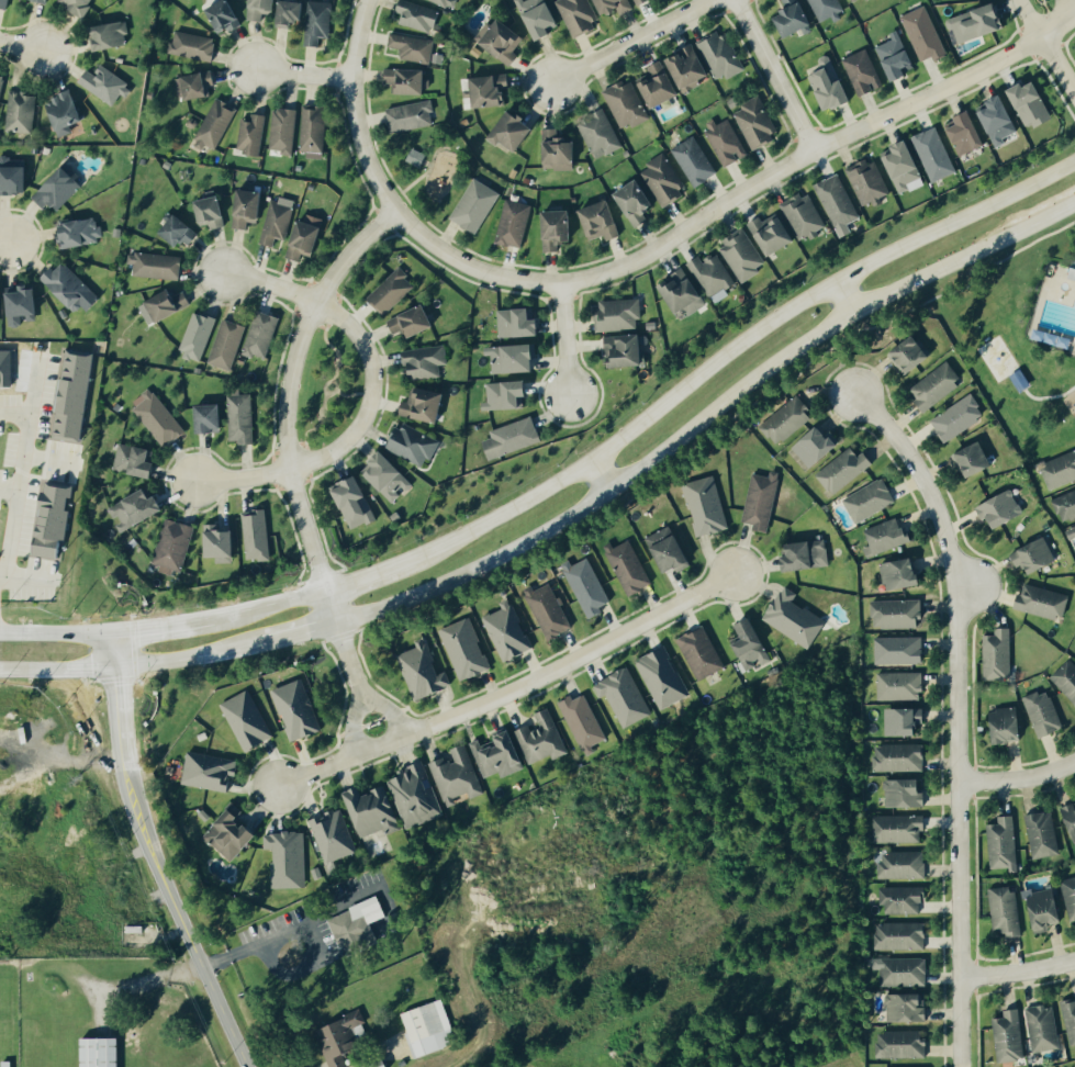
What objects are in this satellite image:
building: (46, 0)
building: (640, 1)
building: (861, 1)
building: (4, 2)
building: (449, 2)
building: (78, 5)
building: (617, 5)
building: (264, 8)
road: (1066, 8)
building: (827, 9)
building: (293, 12)
building: (226, 15)
building: (418, 15)
building: (580, 15)
building: (541, 16)
building: (796, 18)
road: (1028, 20)
building: (318, 21)
building: (978, 22)
building: (921, 34)
building: (110, 35)
building: (505, 40)
road: (631, 42)
road: (20, 43)
building: (194, 45)
building: (413, 47)
building: (723, 55)
building: (898, 56)
building: (692, 67)
road: (1056, 70)
building: (865, 71)
road: (301, 75)
road: (775, 76)
building: (408, 80)
building: (1, 82)
building: (107, 83)
building: (660, 83)
building: (197, 85)
building: (832, 86)
building: (493, 90)
building: (627, 103)
building: (1033, 103)
road: (350, 109)
building: (21, 111)
building: (67, 112)
building: (412, 115)
building: (1001, 120)
building: (757, 123)
building: (216, 124)
building: (315, 127)
building: (284, 130)
building: (515, 131)
building: (968, 133)
building: (253, 134)
building: (601, 134)
building: (727, 141)
building: (560, 150)
building: (934, 154)
building: (417, 156)
building: (695, 160)
building: (905, 166)
building: (14, 176)
building: (664, 180)
building: (870, 181)
building: (59, 189)
road: (735, 200)
building: (638, 201)
building: (839, 203)
building: (475, 205)
building: (248, 207)
building: (213, 212)
building: (804, 215)
building: (603, 221)
building: (278, 222)
building: (514, 223)
building: (559, 228)
building: (179, 231)
building: (80, 232)
building: (775, 233)
building: (309, 236)
road: (3, 244)
building: (742, 254)
building: (157, 265)
building: (1072, 270)
building: (714, 276)
building: (68, 288)
building: (392, 291)
building: (684, 292)
road: (842, 299)
building: (1, 305)
building: (166, 305)
building: (18, 306)
building: (619, 314)
building: (414, 322)
building: (519, 323)
building: (262, 334)
building: (199, 336)
park: (1011, 339)
road: (563, 341)
road: (742, 341)
building: (228, 344)
building: (627, 350)
building: (911, 355)
building: (514, 358)
building: (426, 361)
building: (4, 368)
building: (1018, 381)
building: (937, 384)
building: (507, 394)
building: (71, 395)
road: (369, 395)
road: (30, 400)
building: (425, 404)
road: (706, 415)
building: (960, 417)
building: (159, 418)
building: (212, 418)
building: (243, 418)
building: (788, 420)
building: (514, 437)
building: (413, 443)
building: (817, 446)
road: (284, 449)
building: (974, 459)
building: (136, 460)
building: (846, 469)
building: (1060, 470)
road: (601, 474)
building: (390, 476)
road: (14, 488)
building: (763, 499)
building: (866, 501)
building: (356, 502)
building: (708, 506)
building: (1066, 506)
building: (1001, 508)
building: (137, 509)
building: (54, 521)
building: (1072, 531)
building: (258, 535)
building: (886, 536)
building: (223, 542)
building: (175, 546)
building: (671, 549)
building: (808, 555)
building: (1037, 555)
building: (630, 566)
road: (376, 571)
building: (902, 573)
road: (970, 585)
building: (590, 586)
road: (288, 599)
building: (1043, 602)
building: (550, 610)
building: (898, 613)
building: (796, 618)
road: (181, 624)
building: (508, 631)
road: (55, 633)
road: (289, 634)
building: (753, 645)
building: (466, 649)
building: (900, 650)
building: (703, 653)
building: (999, 654)
road: (178, 659)
road: (567, 662)
road: (56, 670)
building: (424, 672)
building: (663, 677)
building: (1066, 677)
building: (900, 685)
building: (625, 697)
road: (365, 708)
building: (298, 710)
building: (1044, 712)
road: (958, 716)
building: (248, 720)
building: (905, 721)
building: (584, 722)
building: (1008, 725)
building: (542, 739)
building: (500, 755)
building: (899, 757)
road: (320, 768)
building: (211, 771)
building: (458, 775)
road: (1018, 778)
building: (905, 793)
building: (415, 794)
building: (374, 811)
building: (1071, 815)
building: (899, 828)
building: (233, 834)
building: (1043, 834)
building: (335, 835)
building: (1004, 844)
road: (153, 856)
building: (289, 858)
building: (903, 864)
building: (1070, 895)
building: (904, 899)
building: (1045, 908)
building: (1006, 910)
building: (358, 924)
building: (902, 934)
road: (254, 946)
building: (904, 970)
road: (1018, 971)
building: (907, 1006)
building: (1070, 1019)
building: (429, 1026)
building: (1043, 1027)
building: (1009, 1035)
building: (341, 1038)
building: (902, 1043)
building: (103, 1052)

